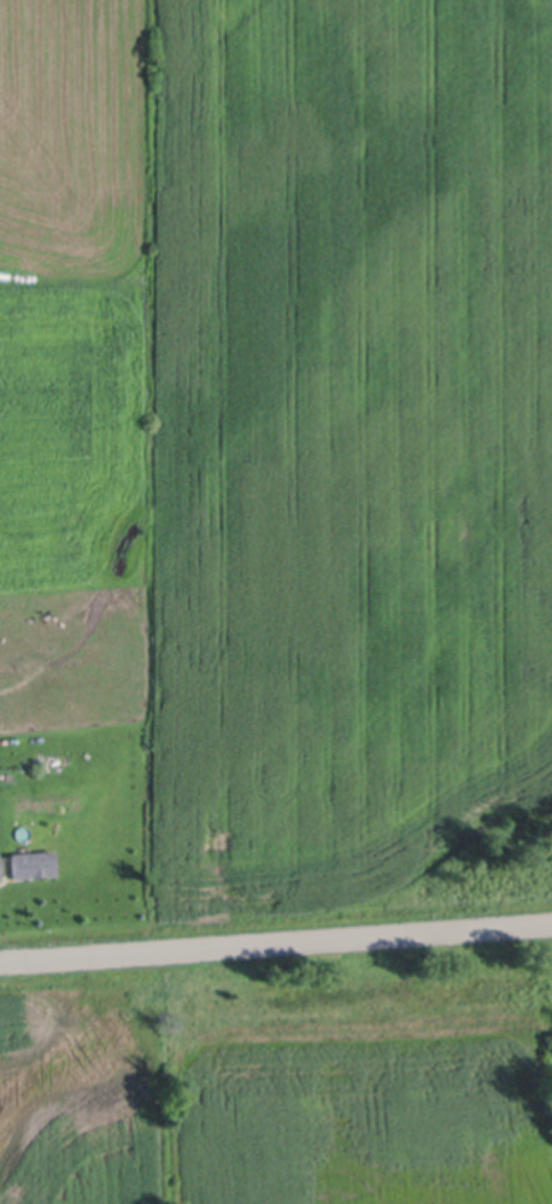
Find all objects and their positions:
building: (34, 863)
building: (0, 870)
road: (276, 941)
crop: (278, 1076)

